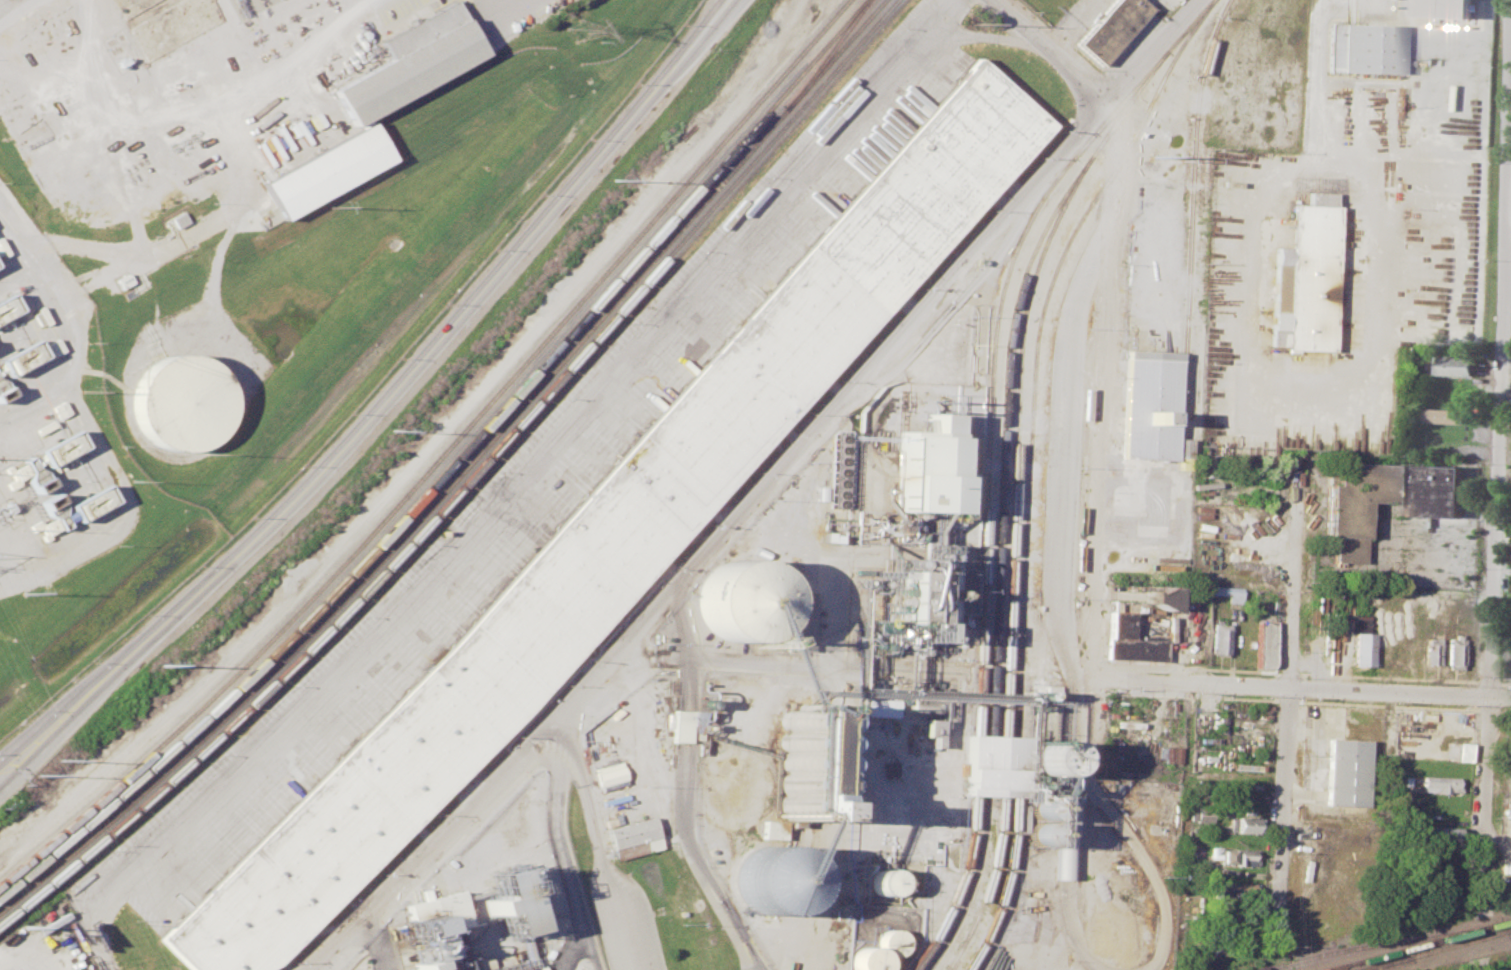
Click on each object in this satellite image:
building: (1448, 8)
road: (15, 9)
road: (1067, 23)
building: (1113, 27)
road: (927, 28)
building: (421, 29)
road: (968, 29)
power tower: (580, 31)
building: (1335, 46)
building: (1372, 48)
road: (1051, 49)
railway: (823, 56)
building: (407, 70)
road: (190, 109)
power tower: (1155, 157)
building: (326, 170)
power tower: (611, 180)
road: (1253, 193)
power tower: (330, 208)
railway: (1190, 211)
building: (1281, 225)
road: (197, 226)
road: (1147, 271)
building: (1305, 276)
road: (1381, 283)
building: (6, 307)
railway: (994, 331)
railway: (1035, 345)
building: (18, 357)
building: (1454, 365)
railway: (1005, 372)
power tower: (82, 392)
road: (367, 394)
building: (179, 403)
storage tank: (179, 403)
building: (1150, 411)
building: (1445, 415)
road: (1062, 418)
power plant: (47, 421)
power tower: (389, 430)
railway: (1015, 438)
building: (59, 447)
railway: (438, 454)
railway: (449, 463)
building: (922, 469)
railway: (458, 471)
railway: (465, 479)
chimney: (38, 481)
road: (754, 491)
building: (1382, 498)
chimney: (52, 504)
road: (485, 511)
building: (615, 533)
power substation: (15, 560)
road: (1498, 582)
building: (1227, 591)
power tower: (26, 594)
building: (920, 595)
building: (1162, 596)
building: (737, 602)
silo: (737, 602)
building: (799, 623)
building: (1220, 635)
building: (1131, 639)
building: (1265, 642)
building: (1362, 648)
building: (1432, 651)
building: (1456, 651)
building: (1508, 663)
road: (827, 665)
power tower: (161, 666)
road: (1290, 688)
road: (1286, 694)
building: (879, 708)
building: (686, 726)
building: (931, 731)
building: (1464, 751)
building: (1168, 753)
road: (1312, 763)
building: (995, 766)
building: (1346, 772)
building: (608, 773)
building: (1440, 784)
road: (681, 787)
building: (586, 809)
building: (1201, 813)
building: (1244, 824)
building: (1442, 832)
building: (634, 839)
road: (596, 845)
building: (1238, 858)
road: (561, 862)
building: (1122, 877)
building: (767, 880)
silo: (767, 880)
building: (882, 882)
railway: (985, 886)
railway: (1003, 886)
railway: (956, 887)
railway: (970, 887)
building: (1234, 889)
building: (505, 901)
railway: (1509, 930)
building: (435, 931)
building: (1117, 933)
building: (888, 941)
railway: (1384, 942)
road: (373, 944)
railway: (1420, 945)
railway: (1437, 950)
road: (20, 955)
building: (865, 959)
railway: (1392, 963)
road: (1478, 964)

